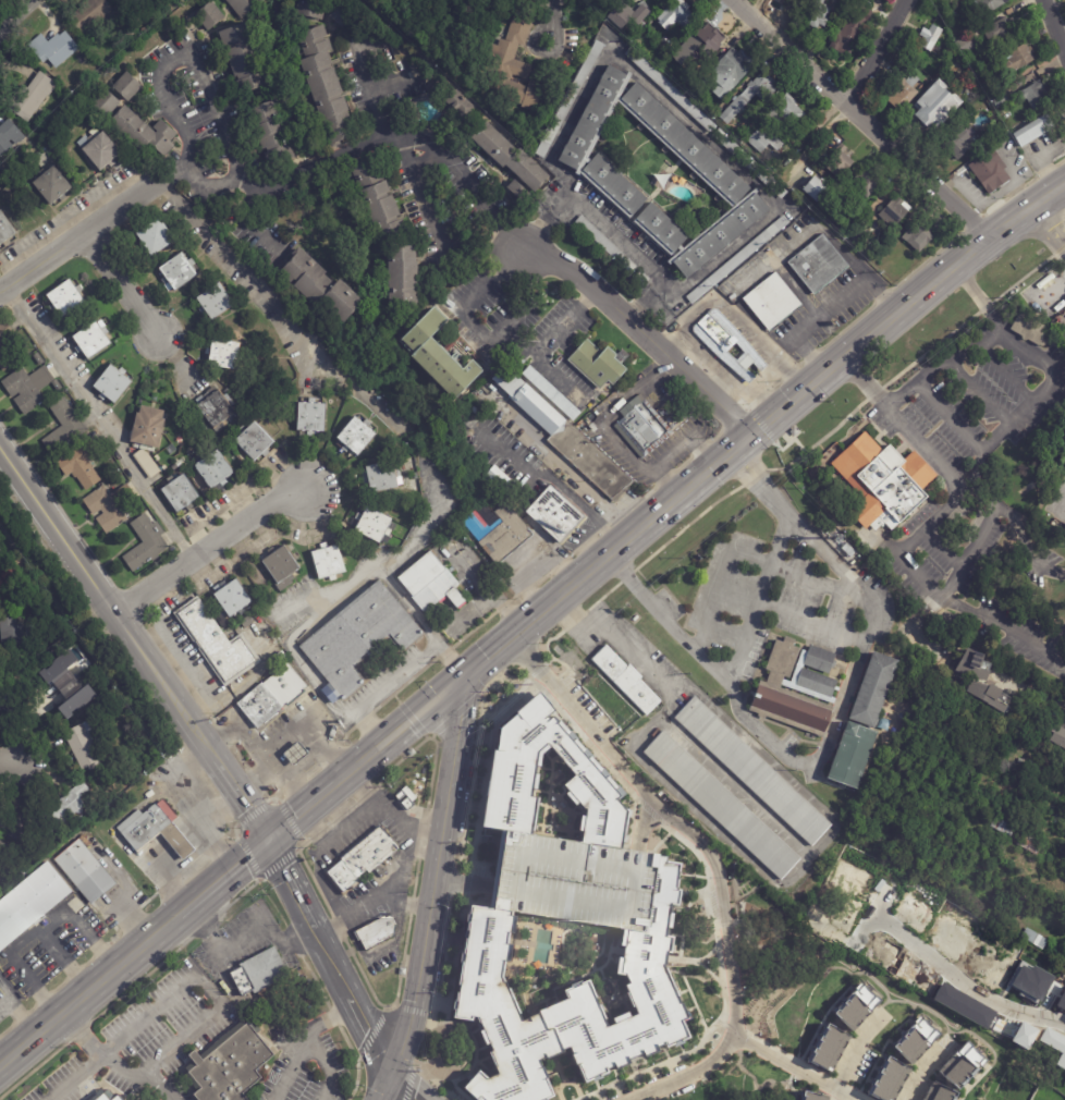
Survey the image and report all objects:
building: (136, 3)
building: (791, 3)
building: (601, 4)
building: (988, 5)
building: (244, 7)
building: (859, 8)
building: (313, 9)
building: (89, 14)
building: (209, 15)
building: (344, 15)
building: (627, 15)
building: (677, 15)
building: (818, 15)
building: (951, 15)
road: (16, 20)
road: (1054, 25)
building: (1003, 32)
building: (609, 35)
building: (933, 35)
building: (131, 36)
building: (847, 40)
building: (968, 44)
building: (702, 45)
building: (53, 48)
building: (514, 49)
road: (184, 51)
road: (874, 52)
building: (244, 58)
building: (1018, 58)
building: (735, 68)
building: (901, 70)
road: (636, 75)
building: (326, 85)
building: (700, 86)
building: (997, 86)
building: (127, 87)
building: (905, 90)
building: (526, 91)
building: (672, 91)
building: (968, 93)
building: (1032, 94)
building: (32, 96)
building: (749, 97)
building: (571, 99)
building: (106, 102)
building: (460, 102)
building: (1002, 102)
building: (940, 107)
road: (860, 118)
building: (547, 121)
building: (768, 124)
building: (1035, 131)
building: (144, 132)
building: (10, 134)
building: (272, 134)
building: (993, 137)
building: (529, 144)
building: (960, 144)
building: (101, 151)
building: (70, 156)
building: (512, 157)
building: (838, 161)
building: (751, 164)
road: (310, 167)
building: (990, 171)
building: (597, 172)
road: (466, 176)
building: (866, 182)
building: (51, 185)
building: (519, 191)
building: (820, 191)
building: (379, 199)
building: (895, 212)
building: (840, 221)
road: (247, 223)
road: (1049, 225)
road: (438, 227)
road: (609, 230)
building: (5, 231)
building: (857, 233)
road: (83, 235)
building: (919, 236)
building: (156, 237)
building: (607, 245)
road: (730, 250)
building: (739, 260)
building: (817, 266)
building: (177, 273)
building: (404, 278)
building: (642, 278)
road: (121, 283)
building: (321, 286)
road: (672, 286)
road: (1053, 289)
building: (715, 293)
building: (65, 298)
building: (216, 302)
building: (772, 302)
road: (463, 314)
building: (1029, 330)
road: (642, 332)
building: (94, 340)
building: (714, 345)
road: (543, 346)
building: (5, 347)
building: (440, 353)
building: (224, 355)
building: (38, 359)
road: (942, 360)
building: (598, 365)
road: (1006, 374)
building: (113, 386)
building: (29, 388)
road: (636, 389)
road: (979, 390)
road: (358, 392)
building: (552, 394)
road: (794, 394)
building: (216, 411)
road: (948, 415)
building: (311, 418)
building: (64, 427)
road: (97, 427)
building: (642, 428)
building: (796, 432)
road: (999, 433)
building: (566, 437)
building: (148, 438)
building: (356, 438)
building: (254, 442)
road: (625, 448)
building: (171, 449)
road: (674, 453)
building: (179, 463)
building: (81, 465)
building: (216, 472)
building: (382, 477)
road: (552, 479)
building: (501, 480)
building: (885, 480)
building: (181, 496)
building: (499, 502)
building: (110, 506)
building: (554, 514)
road: (1011, 515)
road: (926, 524)
building: (376, 526)
building: (505, 536)
building: (146, 543)
road: (210, 549)
road: (729, 551)
building: (1, 553)
building: (328, 563)
road: (906, 569)
building: (281, 571)
road: (810, 580)
road: (355, 583)
building: (430, 583)
building: (9, 587)
building: (267, 596)
building: (233, 600)
road: (994, 620)
road: (529, 622)
road: (747, 622)
building: (247, 623)
road: (423, 623)
road: (807, 623)
road: (516, 633)
building: (14, 637)
building: (358, 640)
road: (135, 643)
building: (217, 644)
building: (947, 651)
road: (486, 659)
road: (301, 662)
building: (62, 675)
traffic signals: (463, 680)
building: (625, 682)
building: (984, 685)
building: (796, 689)
road: (380, 690)
building: (874, 693)
building: (273, 697)
building: (76, 701)
road: (1055, 701)
building: (50, 706)
building: (8, 711)
building: (885, 725)
road: (831, 728)
building: (1057, 734)
road: (281, 737)
road: (454, 740)
road: (309, 741)
building: (84, 745)
road: (315, 747)
road: (294, 753)
building: (412, 753)
building: (296, 756)
building: (853, 757)
road: (299, 759)
road: (11, 761)
road: (280, 763)
road: (285, 770)
building: (509, 770)
building: (751, 771)
building: (1048, 771)
road: (283, 780)
road: (257, 781)
building: (1063, 781)
building: (150, 794)
building: (406, 798)
road: (224, 805)
building: (64, 807)
building: (721, 807)
building: (15, 823)
road: (213, 823)
building: (146, 824)
building: (69, 828)
road: (184, 831)
road: (172, 838)
traffic signals: (269, 838)
building: (1011, 838)
building: (85, 840)
building: (177, 841)
gas station: (177, 841)
road: (163, 847)
road: (180, 847)
building: (4, 852)
building: (363, 858)
road: (711, 858)
road: (230, 869)
building: (85, 871)
road: (166, 873)
building: (571, 880)
parking lot: (571, 880)
road: (292, 882)
building: (30, 902)
road: (371, 902)
road: (36, 931)
building: (378, 933)
building: (1036, 940)
road: (237, 948)
road: (424, 953)
road: (330, 954)
road: (64, 960)
building: (259, 971)
building: (403, 971)
road: (964, 980)
road: (203, 988)
road: (13, 997)
building: (571, 1002)
road: (22, 1018)
road: (322, 1024)
road: (369, 1027)
building: (836, 1029)
road: (856, 1055)
building: (898, 1062)
road: (114, 1063)
building: (232, 1066)
road: (792, 1067)
traffic signals: (393, 1073)
road: (923, 1075)
building: (956, 1075)
road: (282, 1076)
road: (74, 1077)
road: (406, 1086)
building: (811, 1095)
building: (110, 1097)

